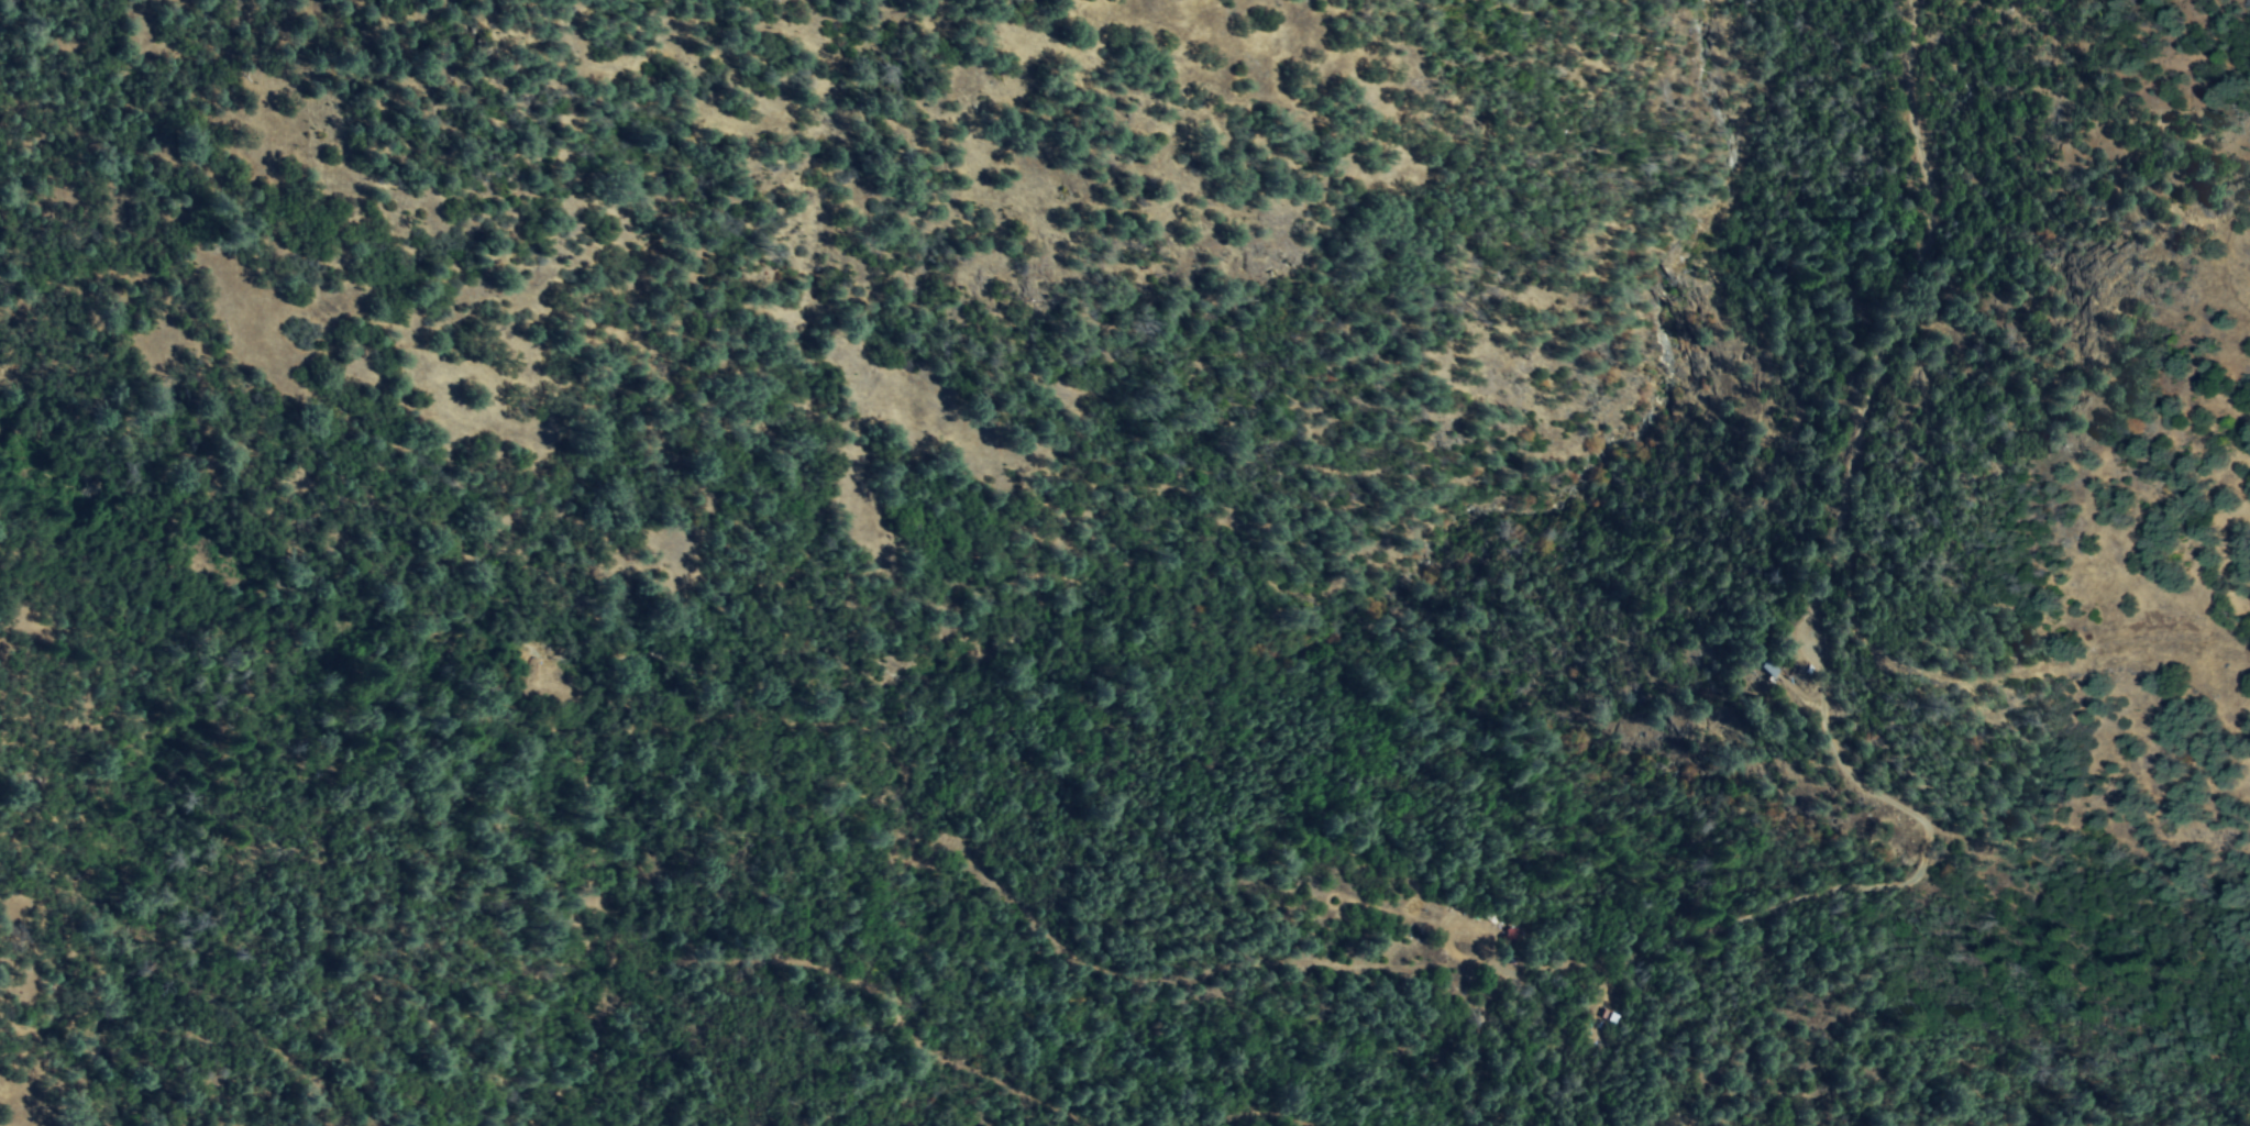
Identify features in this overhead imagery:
road: (1885, 319)

